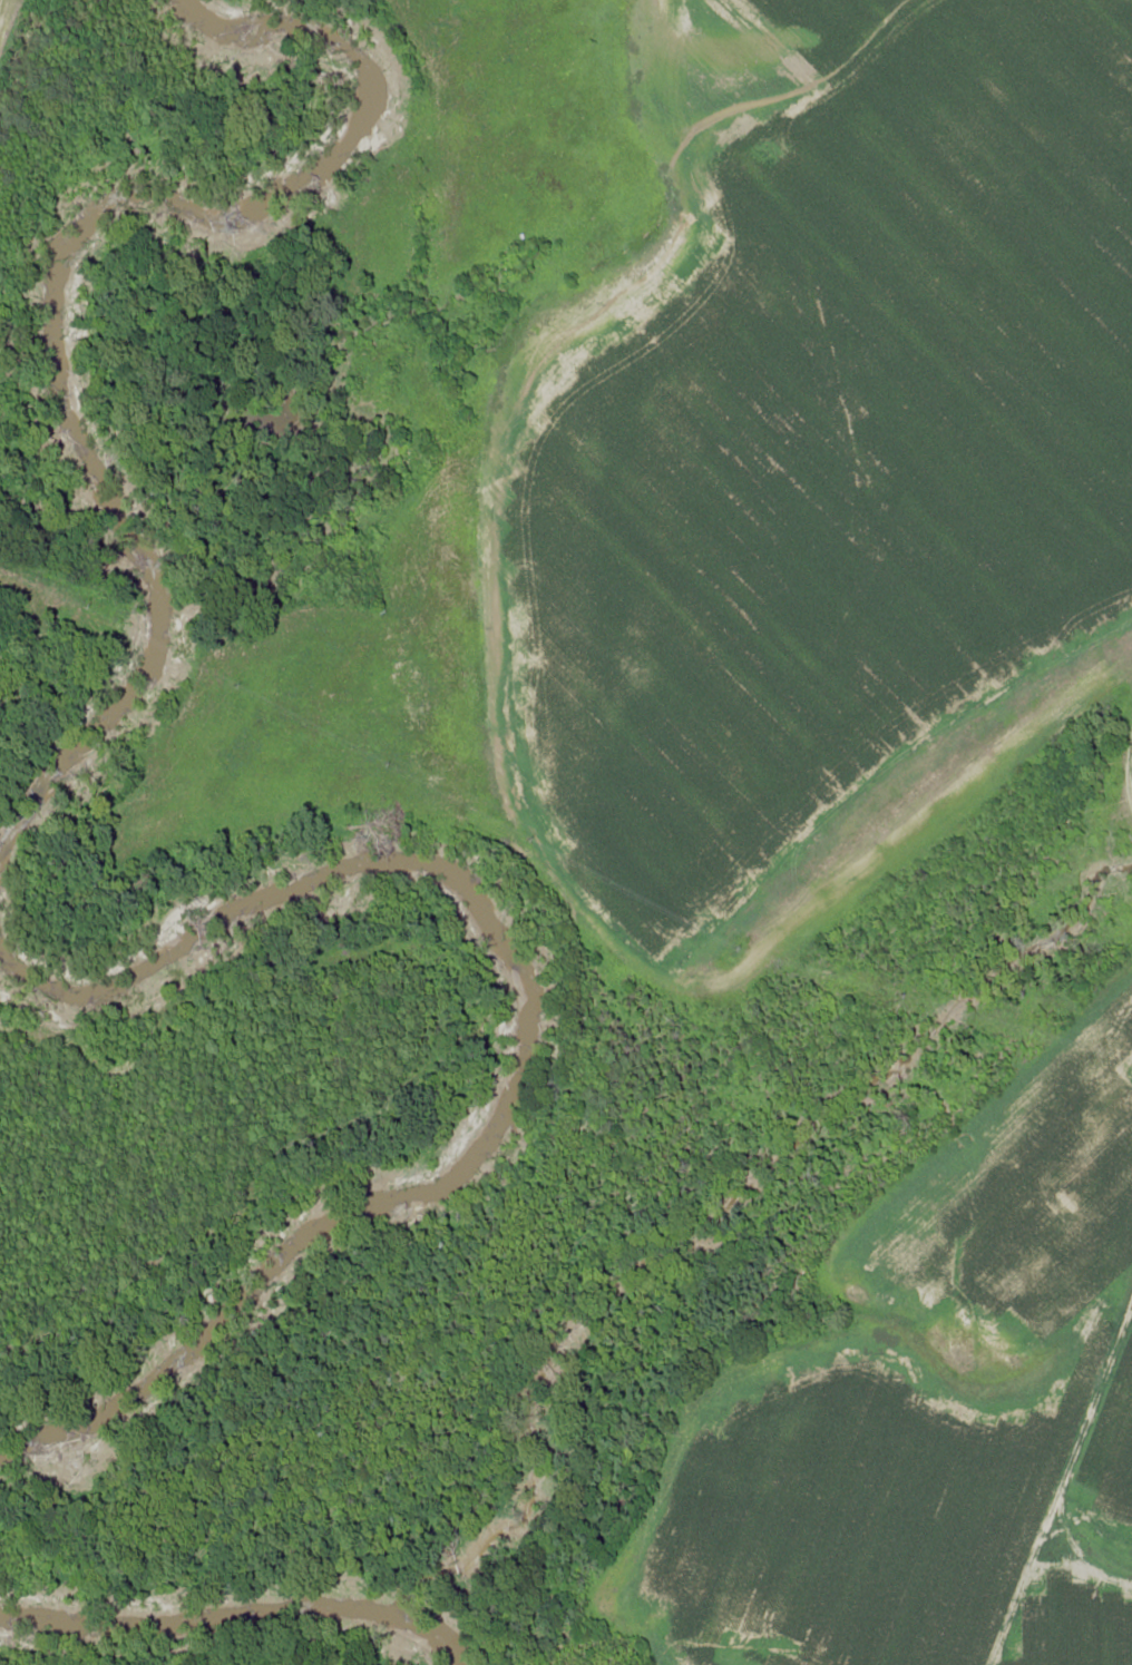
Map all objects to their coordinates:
river: (16, 930)
river: (232, 1625)

